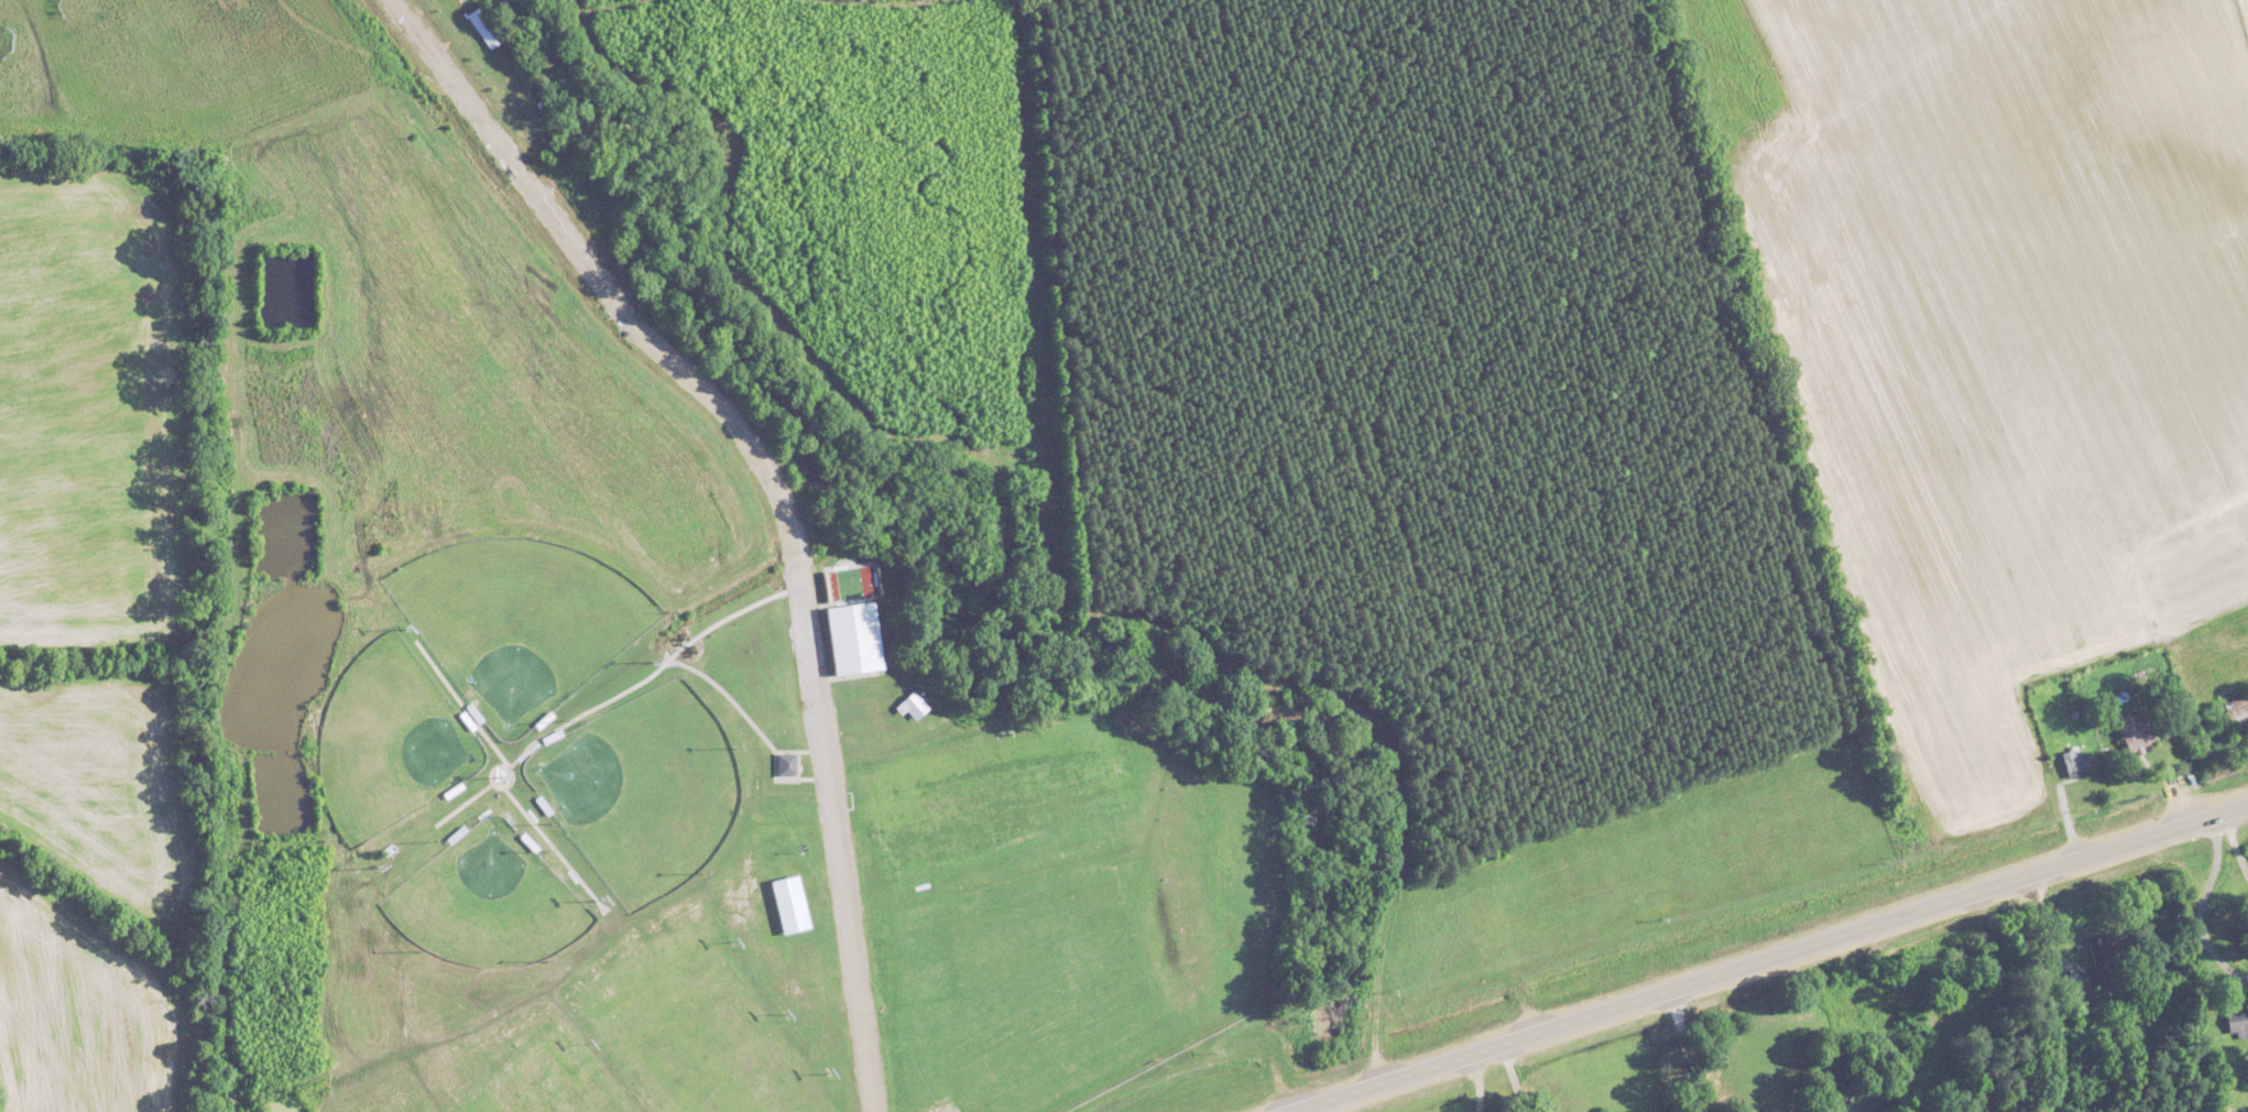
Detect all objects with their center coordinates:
road: (588, 709)
building: (2238, 710)
road: (738, 717)
building: (2137, 735)
building: (2076, 762)
road: (520, 811)
park: (662, 826)
road: (828, 833)
road: (2234, 849)
road: (2194, 913)
road: (2048, 930)
road: (1769, 957)
building: (2105, 957)
building: (2084, 995)
building: (1913, 1011)
building: (2239, 1023)
road: (1684, 1049)
road: (1513, 1077)
road: (1476, 1082)

